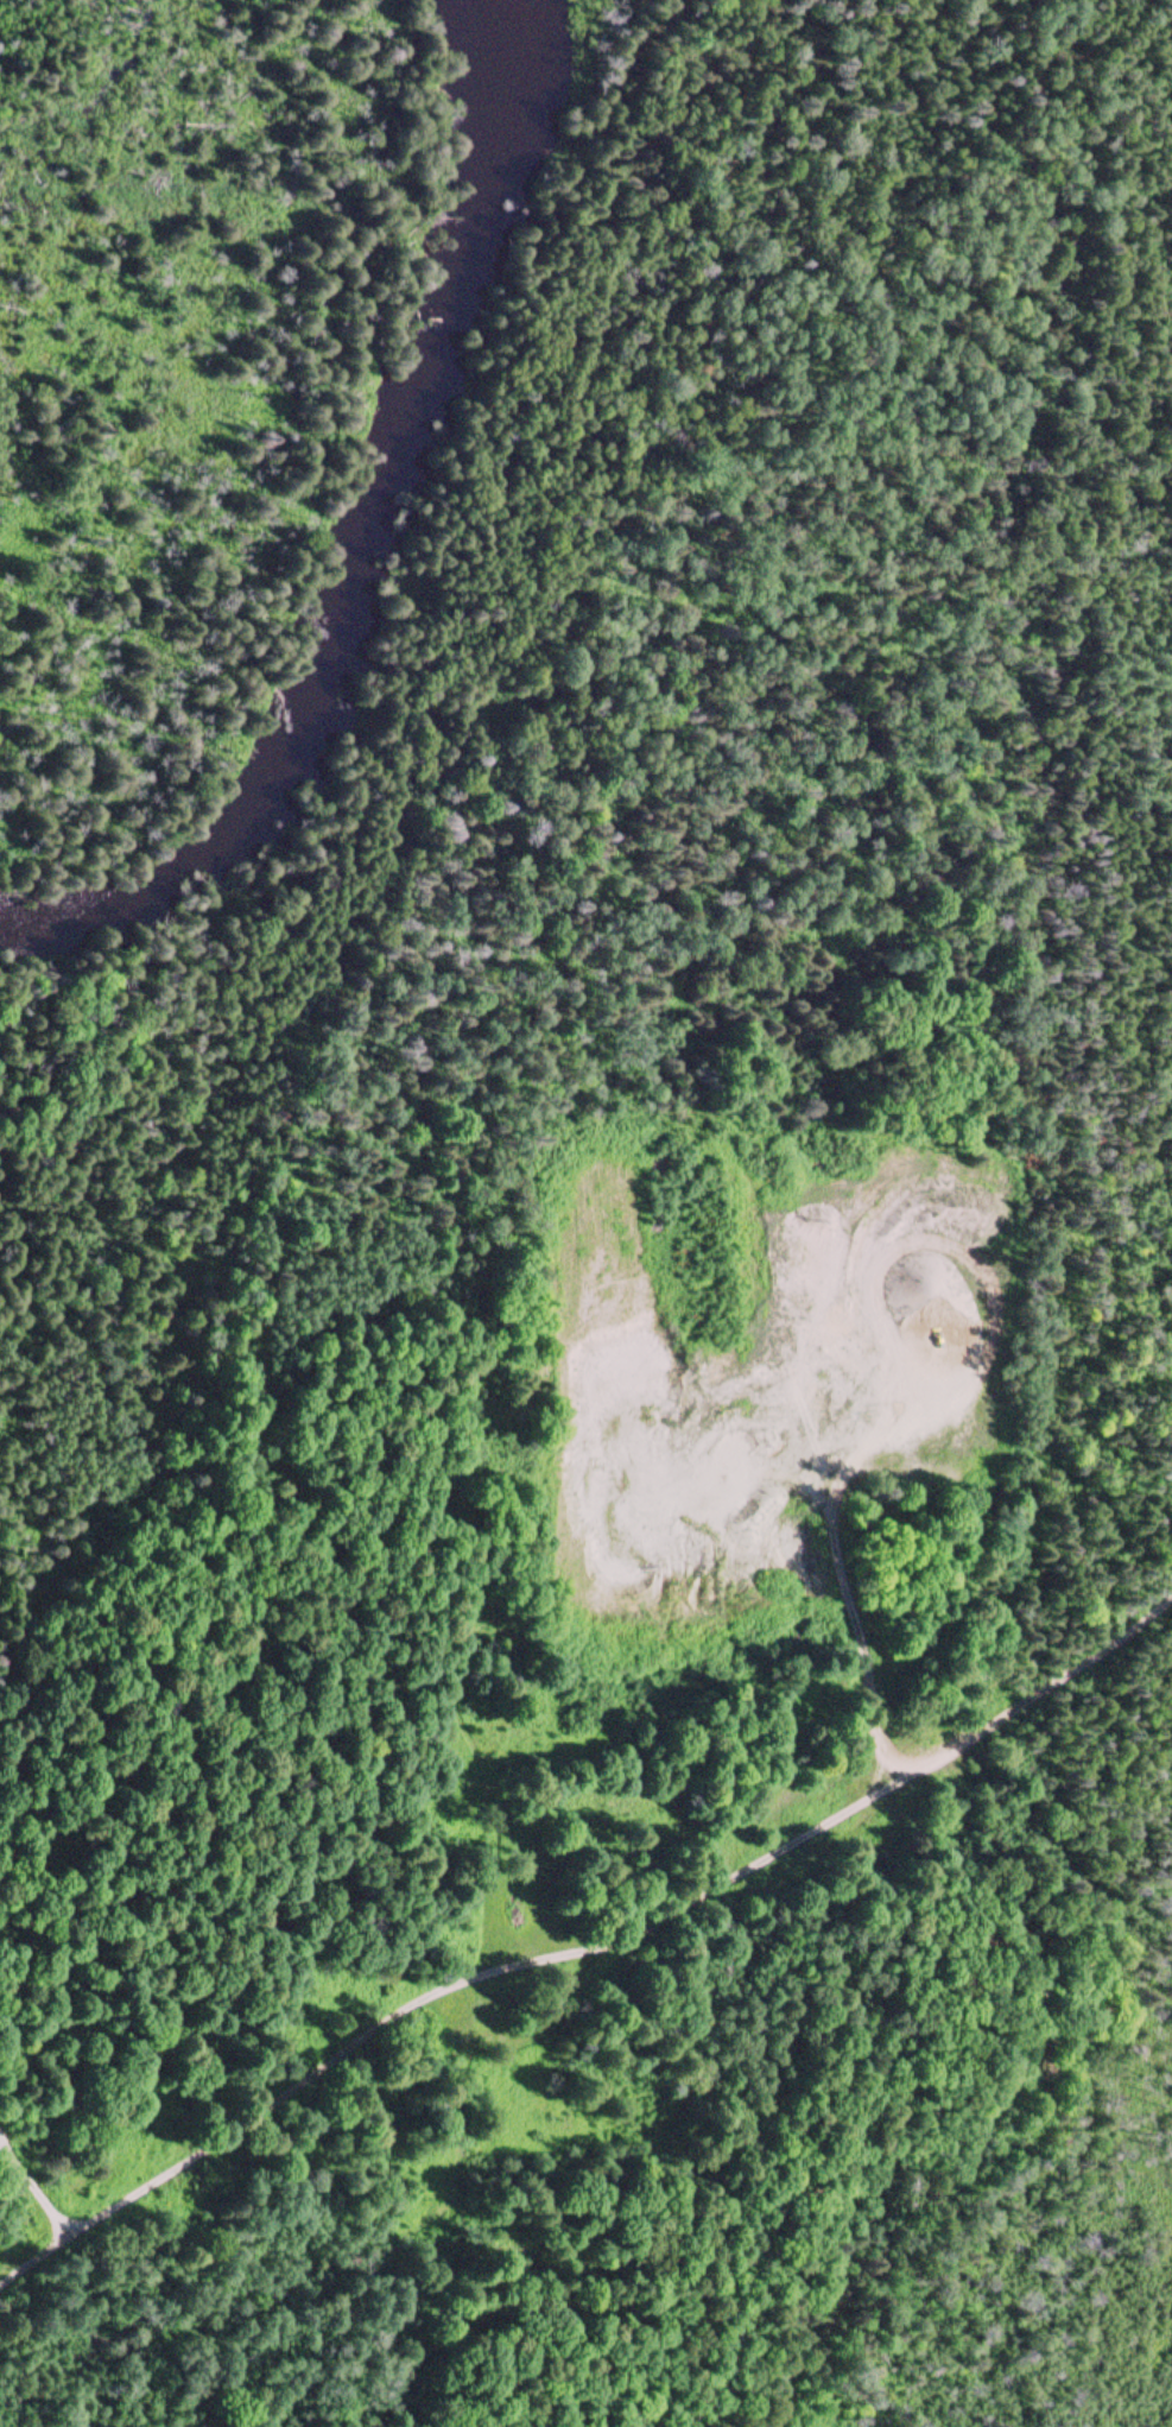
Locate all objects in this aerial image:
river: (372, 552)

